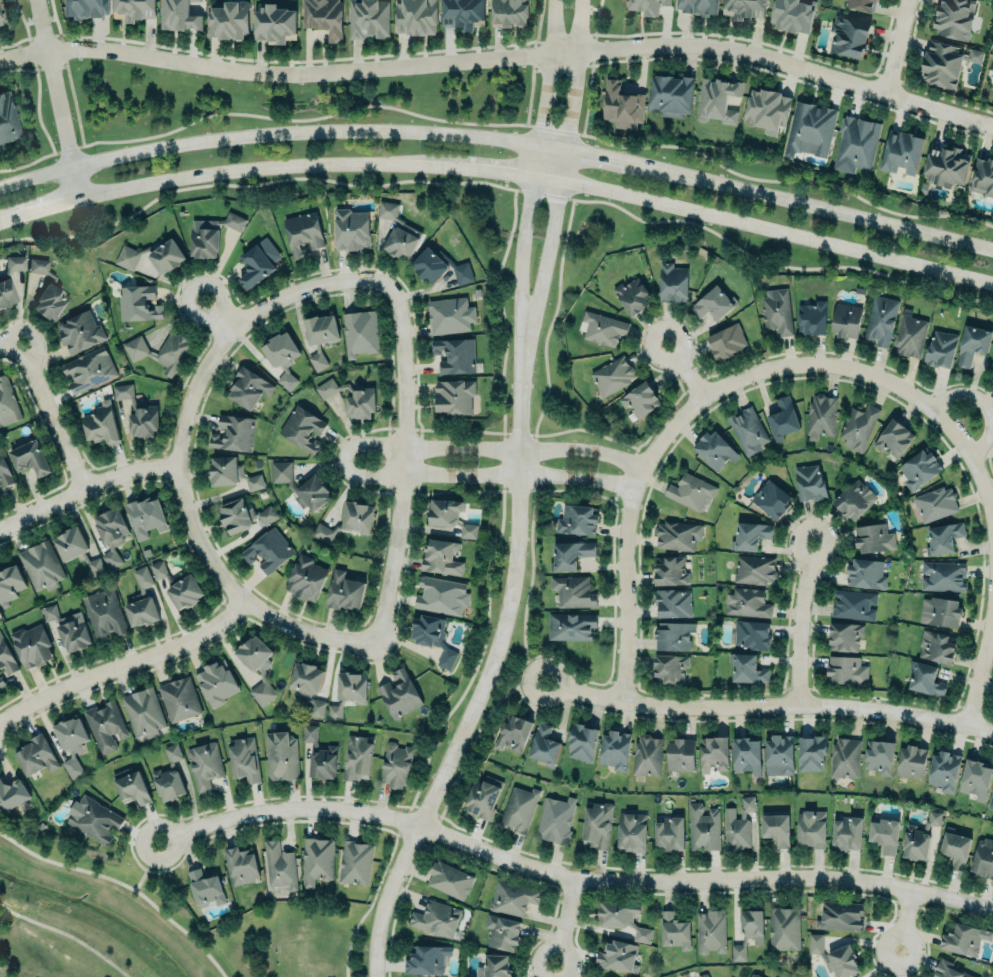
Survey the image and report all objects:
building: (860, 4)
building: (646, 6)
building: (698, 6)
building: (86, 8)
road: (589, 8)
building: (744, 8)
building: (133, 9)
building: (503, 12)
building: (462, 13)
building: (792, 14)
building: (178, 15)
building: (324, 16)
building: (415, 17)
building: (369, 18)
building: (954, 18)
building: (229, 19)
building: (274, 22)
building: (849, 35)
road: (899, 48)
road: (501, 58)
building: (945, 61)
road: (530, 62)
road: (590, 67)
road: (541, 71)
road: (63, 72)
road: (32, 76)
road: (788, 78)
building: (670, 95)
road: (53, 98)
building: (717, 99)
building: (620, 105)
building: (767, 109)
building: (8, 116)
road: (262, 117)
building: (811, 128)
road: (552, 130)
road: (499, 138)
building: (856, 143)
building: (901, 151)
building: (945, 165)
road: (499, 174)
building: (983, 175)
road: (784, 180)
road: (255, 184)
road: (530, 194)
road: (545, 194)
road: (559, 196)
building: (351, 228)
building: (397, 232)
building: (211, 233)
building: (302, 233)
building: (153, 255)
building: (257, 260)
building: (14, 262)
building: (439, 266)
building: (672, 282)
building: (48, 290)
building: (6, 292)
building: (633, 295)
building: (138, 303)
building: (712, 303)
building: (776, 310)
road: (218, 314)
building: (450, 314)
building: (811, 317)
building: (845, 319)
building: (880, 320)
road: (243, 322)
building: (602, 328)
building: (80, 331)
building: (360, 332)
building: (320, 336)
building: (909, 336)
building: (726, 341)
road: (7, 342)
building: (973, 342)
building: (940, 349)
building: (159, 351)
building: (457, 355)
building: (281, 357)
building: (992, 361)
building: (88, 369)
road: (685, 369)
building: (612, 375)
road: (880, 378)
building: (249, 388)
building: (326, 388)
building: (454, 395)
building: (640, 399)
building: (7, 403)
building: (360, 403)
road: (986, 406)
building: (138, 412)
building: (821, 414)
road: (49, 415)
building: (783, 417)
building: (101, 423)
building: (858, 427)
building: (302, 428)
building: (748, 430)
building: (233, 433)
building: (893, 438)
building: (714, 450)
road: (345, 457)
building: (29, 458)
road: (403, 461)
building: (918, 469)
building: (5, 471)
building: (231, 473)
building: (808, 482)
building: (301, 485)
road: (87, 487)
building: (690, 491)
building: (0, 495)
building: (771, 499)
building: (854, 499)
building: (935, 503)
building: (242, 515)
building: (451, 515)
building: (145, 516)
building: (357, 516)
building: (577, 519)
building: (322, 532)
building: (111, 534)
road: (626, 535)
building: (677, 535)
building: (750, 535)
building: (943, 537)
building: (873, 538)
building: (69, 544)
building: (268, 550)
building: (570, 554)
building: (441, 557)
building: (40, 565)
building: (94, 567)
building: (754, 569)
building: (670, 571)
building: (865, 573)
building: (943, 575)
building: (305, 578)
building: (9, 582)
building: (178, 585)
building: (573, 590)
building: (344, 591)
building: (441, 595)
road: (240, 596)
building: (747, 602)
building: (672, 603)
building: (853, 604)
building: (142, 611)
building: (940, 611)
building: (103, 613)
road: (801, 622)
building: (571, 625)
building: (68, 628)
building: (751, 634)
building: (674, 635)
building: (844, 636)
building: (433, 637)
building: (31, 645)
building: (937, 646)
road: (523, 652)
building: (6, 657)
road: (124, 663)
building: (257, 666)
building: (669, 667)
building: (746, 669)
building: (847, 669)
road: (980, 673)
building: (1, 680)
building: (924, 680)
building: (218, 681)
building: (307, 686)
building: (348, 691)
road: (482, 691)
road: (504, 693)
building: (400, 694)
building: (179, 699)
road: (770, 704)
building: (143, 712)
building: (105, 725)
building: (513, 731)
building: (71, 742)
building: (581, 742)
building: (543, 745)
building: (615, 749)
building: (714, 753)
building: (811, 753)
building: (680, 754)
building: (746, 754)
building: (37, 755)
building: (280, 755)
building: (320, 755)
building: (647, 755)
building: (779, 755)
building: (878, 756)
building: (844, 757)
building: (356, 758)
building: (244, 759)
building: (911, 761)
building: (395, 765)
building: (204, 766)
building: (944, 771)
building: (169, 775)
building: (975, 779)
building: (132, 787)
building: (12, 794)
building: (483, 796)
building: (991, 800)
building: (519, 808)
building: (95, 819)
building: (555, 819)
building: (597, 824)
building: (737, 825)
building: (703, 827)
building: (776, 828)
building: (810, 828)
building: (632, 831)
building: (669, 833)
building: (847, 833)
building: (885, 835)
building: (919, 837)
building: (955, 848)
building: (983, 859)
building: (317, 860)
building: (355, 862)
road: (385, 864)
building: (241, 865)
building: (279, 865)
road: (143, 866)
road: (569, 877)
building: (450, 879)
road: (123, 886)
building: (206, 886)
building: (513, 898)
road: (2, 912)
building: (840, 916)
park: (90, 918)
building: (437, 918)
building: (621, 918)
road: (563, 920)
road: (907, 921)
building: (752, 925)
building: (784, 928)
building: (674, 930)
building: (710, 931)
building: (502, 932)
road: (65, 935)
building: (961, 938)
road: (350, 939)
park: (297, 940)
park: (304, 944)
building: (738, 953)
building: (616, 955)
building: (834, 956)
building: (427, 959)
building: (494, 966)
building: (949, 970)
building: (702, 975)
building: (752, 975)

